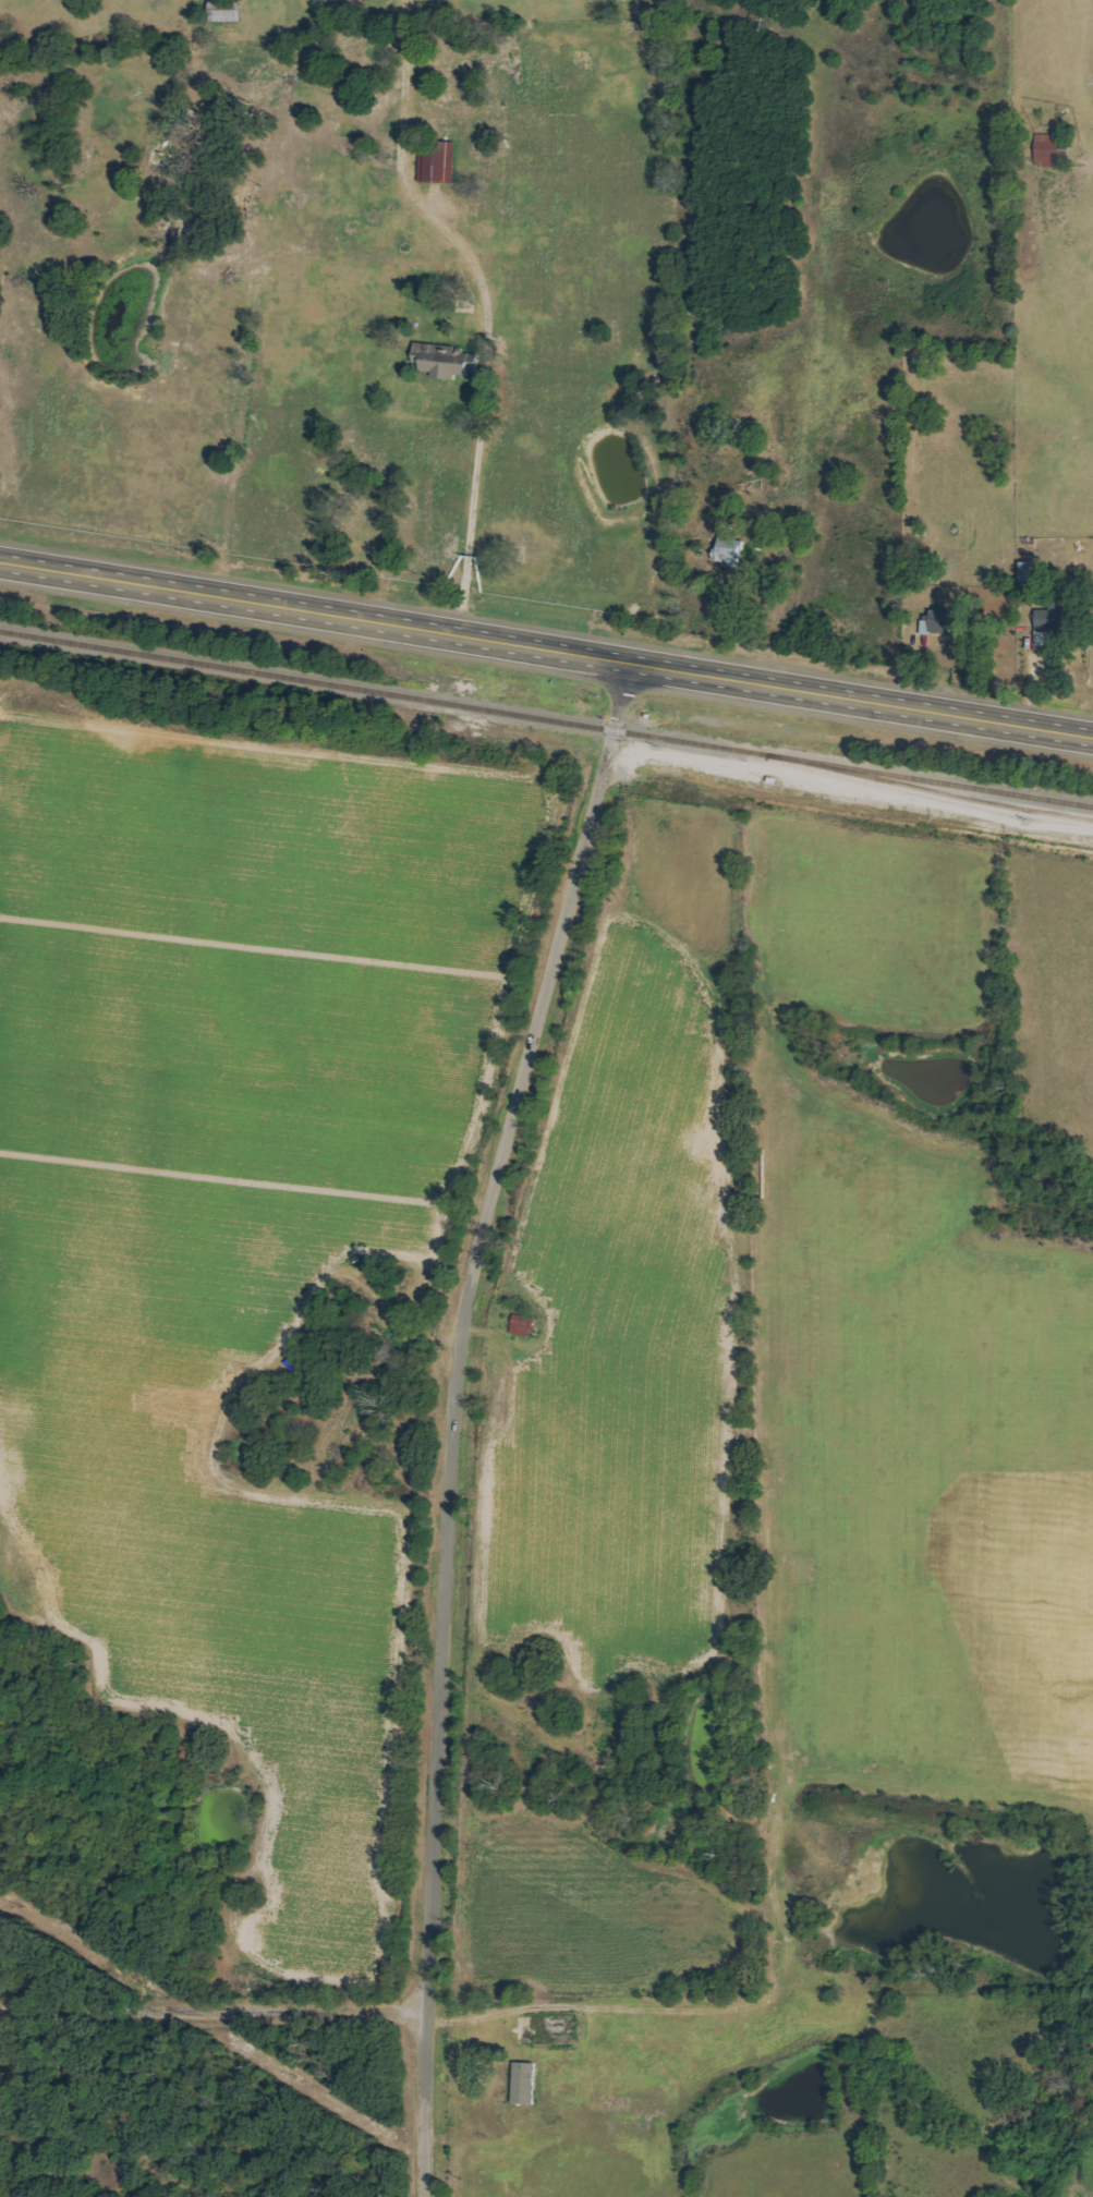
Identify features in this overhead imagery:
building: (1047, 149)
building: (439, 161)
road: (484, 320)
building: (445, 361)
building: (730, 550)
building: (940, 622)
building: (1046, 631)
road: (546, 647)
railway: (546, 718)
railway: (930, 789)
building: (524, 1325)
road: (451, 1417)
power tower: (23, 1907)
road: (487, 2007)
road: (212, 2015)
building: (525, 2083)
power tower: (464, 2177)

